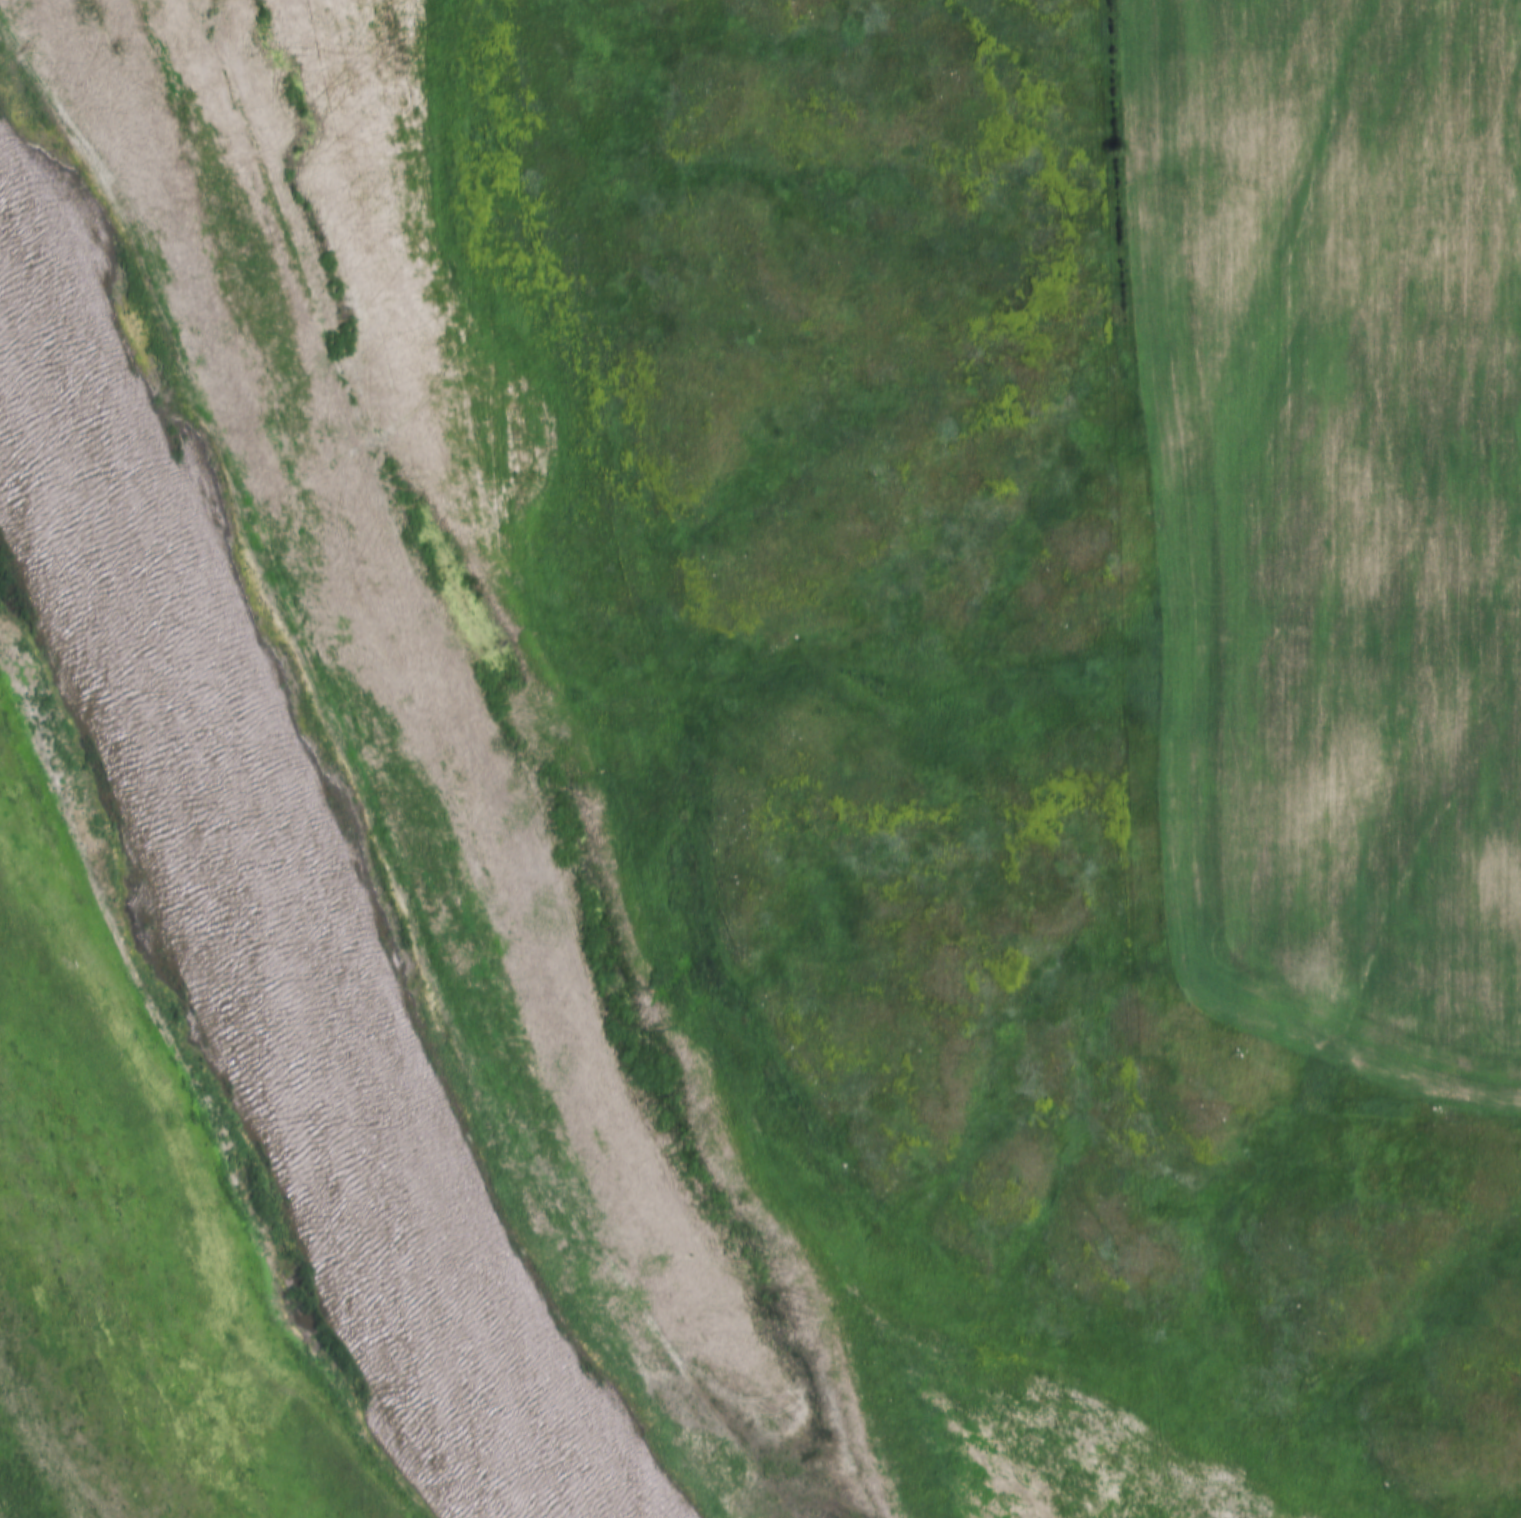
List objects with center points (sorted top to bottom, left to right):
river: (272, 930)

